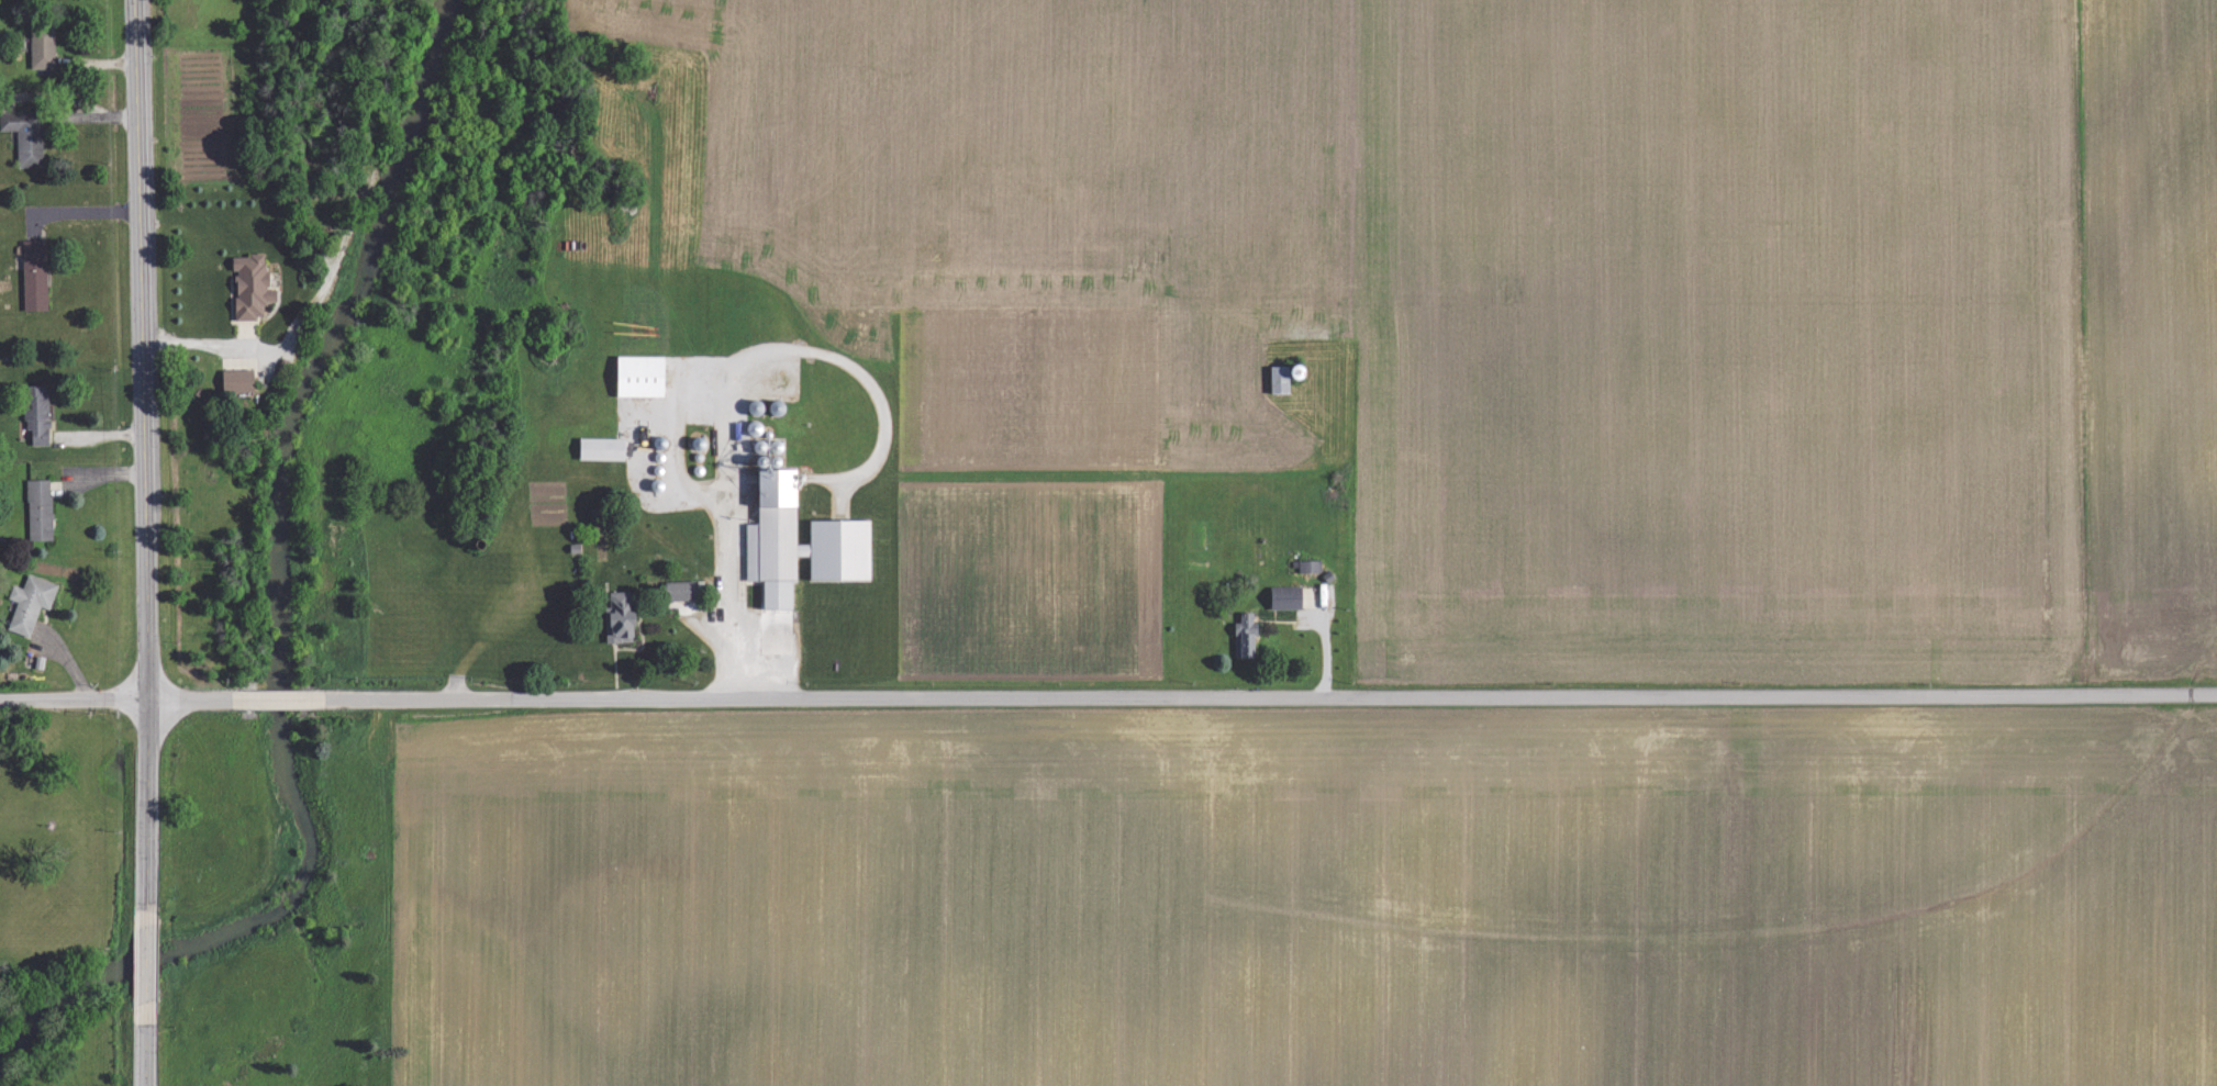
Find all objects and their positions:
building: (44, 49)
building: (27, 135)
building: (36, 275)
building: (254, 286)
road: (198, 340)
building: (645, 376)
building: (1283, 379)
building: (241, 380)
building: (40, 413)
road: (145, 447)
building: (604, 448)
building: (41, 510)
building: (843, 534)
building: (1311, 566)
building: (682, 590)
building: (1289, 597)
building: (32, 603)
building: (624, 619)
building: (1248, 636)
road: (1271, 693)
road: (278, 699)
road: (115, 701)
road: (148, 959)
road: (147, 1054)

